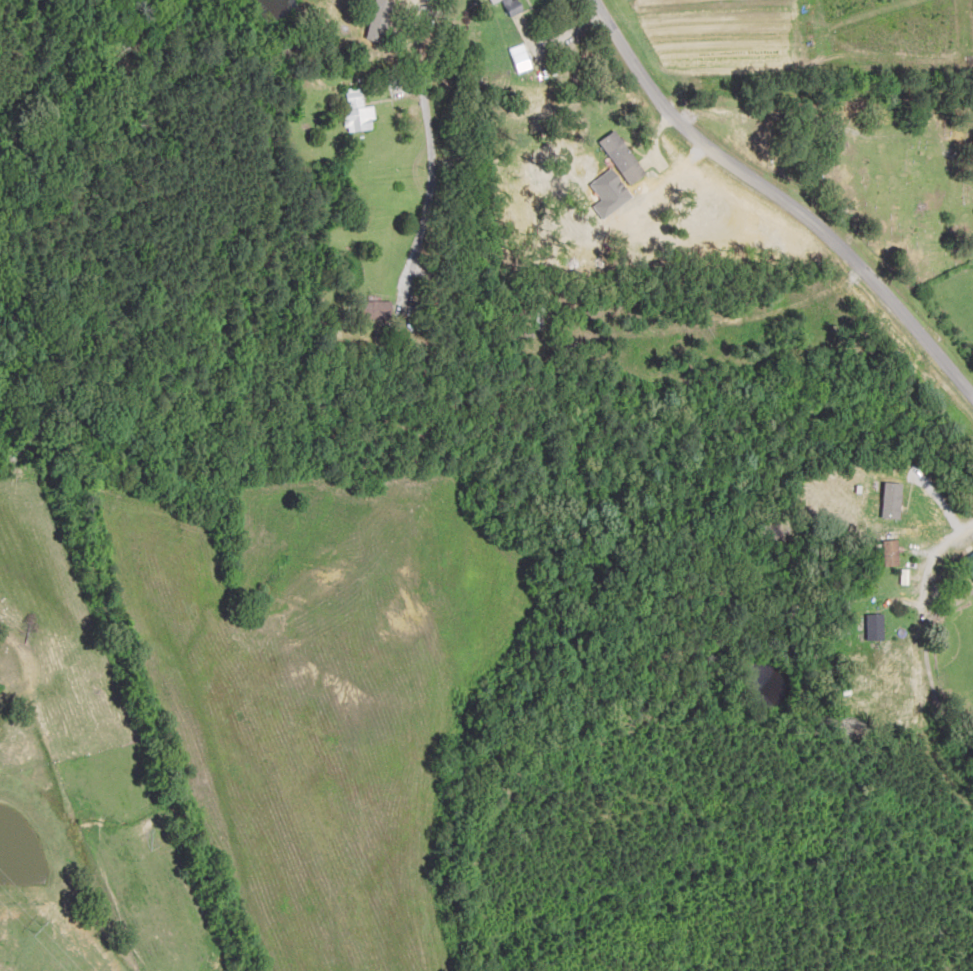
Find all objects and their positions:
building: (496, 1)
building: (516, 6)
building: (543, 93)
road: (831, 95)
building: (360, 112)
building: (624, 157)
road: (795, 182)
road: (363, 206)
building: (381, 309)
building: (893, 552)
building: (969, 562)
building: (876, 627)

